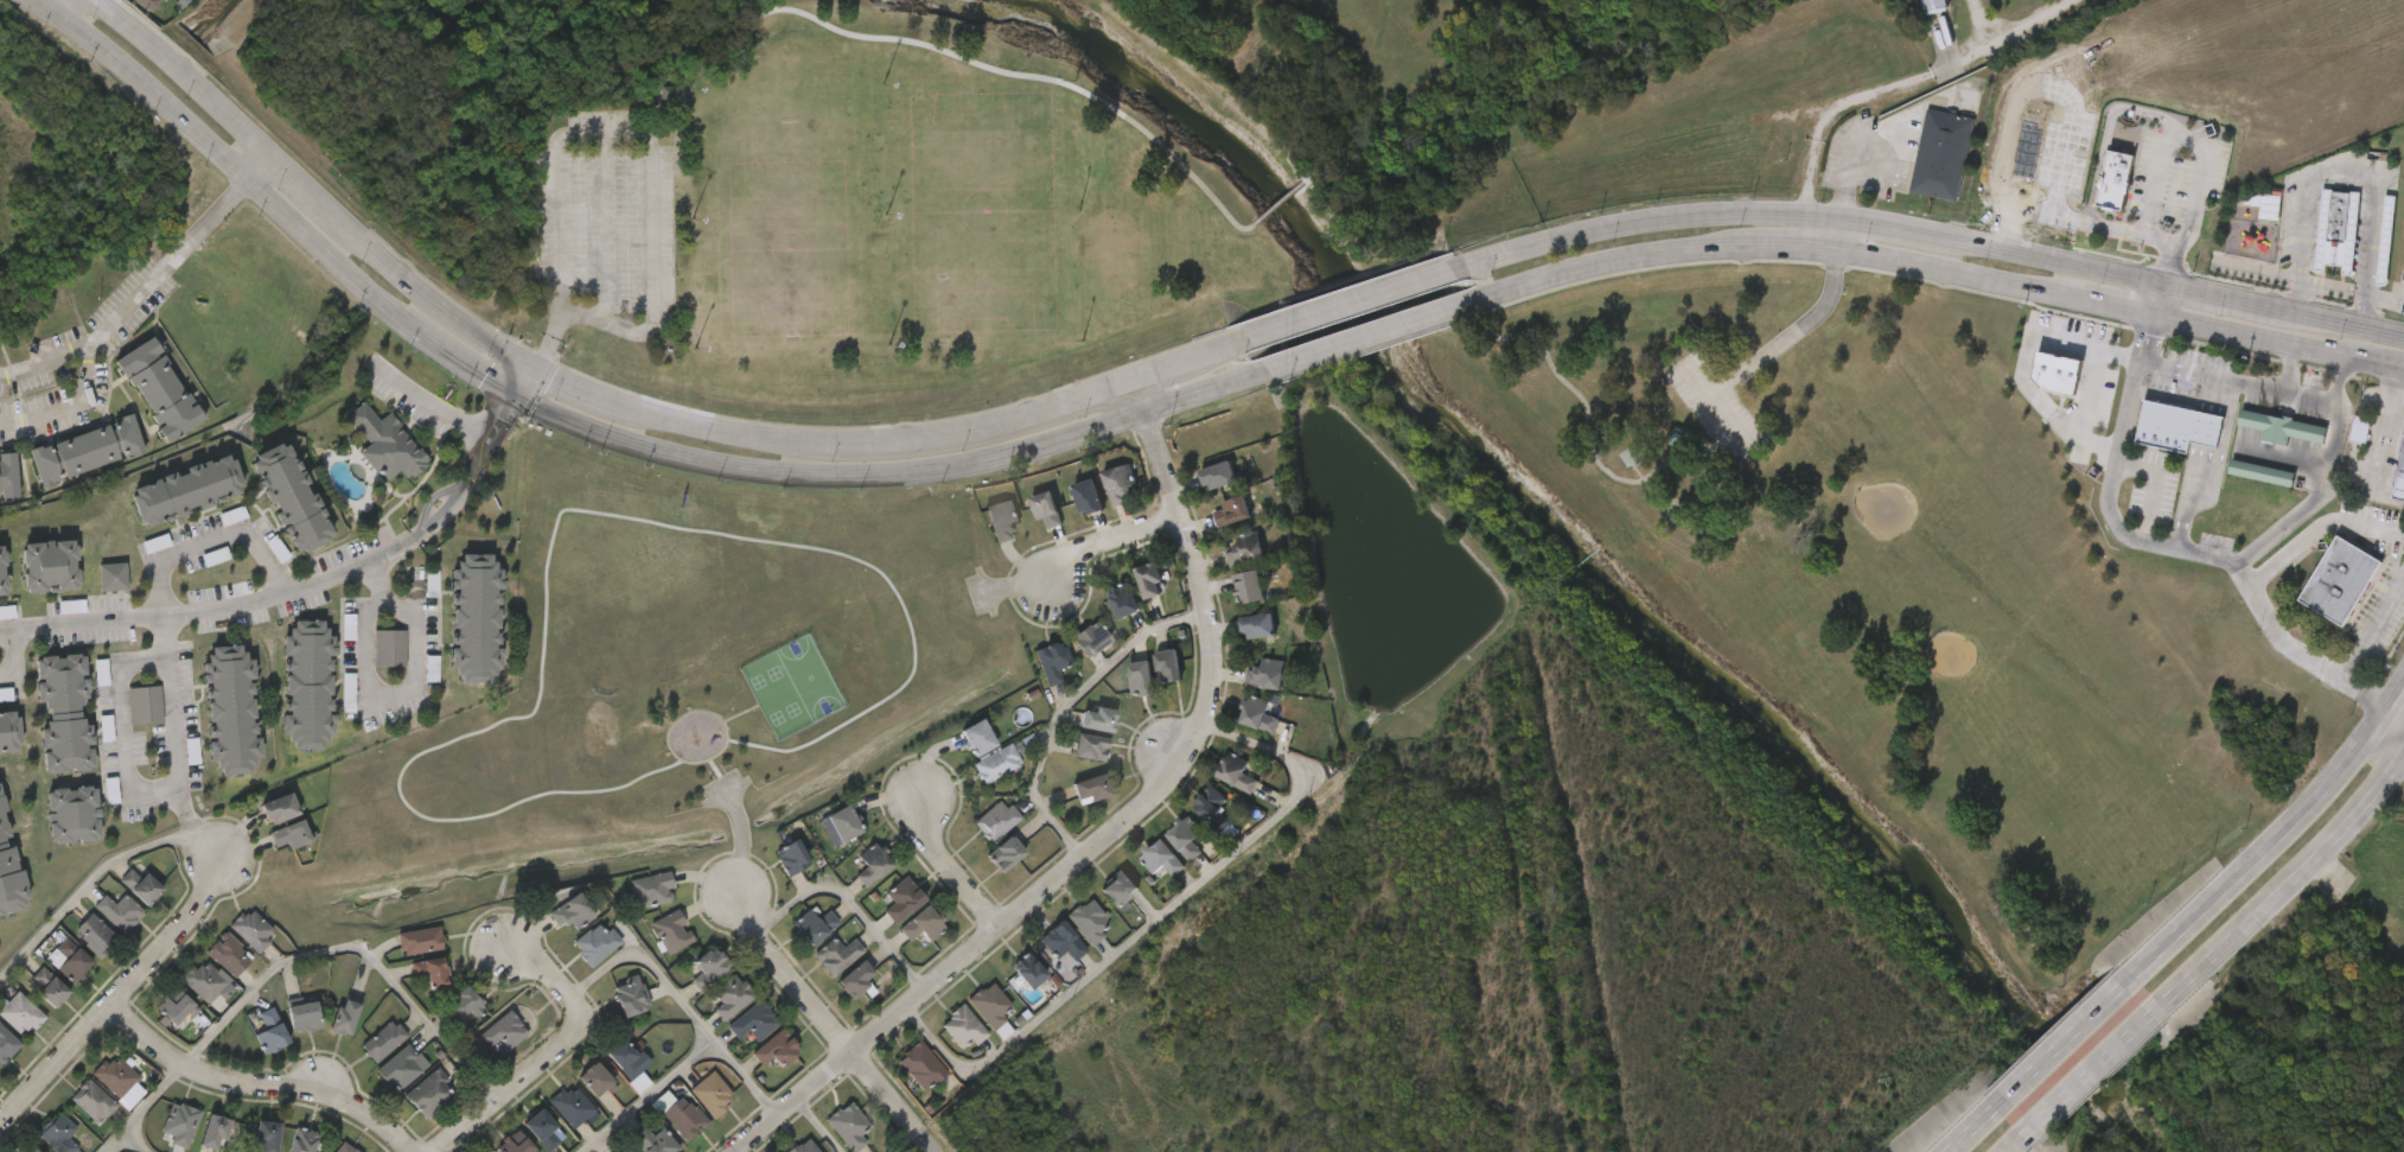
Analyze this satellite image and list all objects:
road: (59, 5)
building: (149, 5)
road: (750, 7)
building: (126, 13)
building: (1908, 18)
road: (1029, 77)
road: (1911, 90)
road: (2121, 108)
building: (648, 119)
road: (630, 133)
building: (1940, 149)
road: (260, 168)
road: (2345, 168)
building: (1920, 178)
road: (2156, 180)
park: (808, 183)
building: (2117, 183)
road: (1281, 204)
building: (2094, 204)
park: (983, 211)
road: (1811, 214)
park: (790, 216)
building: (2335, 228)
building: (2398, 231)
road: (1842, 234)
building: (2385, 238)
building: (2315, 254)
road: (164, 263)
road: (2164, 266)
road: (1940, 272)
road: (1487, 276)
road: (2307, 281)
road: (2295, 295)
road: (2221, 297)
road: (2385, 299)
road: (2157, 300)
road: (1350, 304)
road: (2344, 322)
road: (1529, 337)
road: (1792, 337)
road: (1364, 338)
road: (1220, 349)
road: (529, 361)
traffic signals: (531, 363)
road: (2023, 363)
road: (85, 369)
road: (2289, 369)
building: (2053, 374)
road: (1135, 376)
road: (1169, 382)
building: (158, 389)
road: (2263, 389)
road: (2089, 394)
building: (2034, 396)
road: (1195, 397)
road: (2398, 399)
traffic signals: (511, 403)
road: (432, 405)
road: (1105, 406)
parking lot: (1714, 406)
road: (1715, 406)
road: (524, 409)
building: (139, 412)
building: (2176, 428)
building: (2283, 428)
building: (2359, 428)
building: (385, 441)
road: (2381, 443)
building: (82, 446)
building: (2156, 450)
building: (2260, 451)
building: (2338, 453)
road: (483, 456)
building: (7, 467)
building: (366, 467)
road: (2217, 470)
building: (2262, 471)
building: (68, 472)
building: (1217, 475)
building: (2400, 477)
gas station: (2400, 477)
building: (1117, 479)
road: (2155, 480)
building: (184, 489)
building: (292, 496)
building: (2240, 496)
building: (1085, 497)
building: (1198, 498)
road: (2311, 501)
building: (1045, 505)
building: (1098, 507)
building: (1230, 509)
building: (166, 513)
building: (1001, 516)
building: (270, 518)
building: (1066, 520)
road: (2316, 530)
building: (1025, 532)
building: (1211, 534)
road: (1108, 541)
building: (981, 542)
road: (2174, 547)
building: (1249, 548)
building: (51, 564)
building: (111, 572)
building: (1231, 572)
building: (0, 579)
road: (375, 579)
building: (1148, 579)
building: (2341, 581)
building: (1246, 586)
building: (30, 588)
building: (91, 599)
park: (1890, 599)
building: (1121, 602)
road: (215, 607)
building: (410, 607)
building: (1227, 610)
road: (164, 612)
building: (473, 618)
building: (1103, 623)
building: (1254, 624)
road: (2374, 628)
building: (1089, 637)
building: (454, 641)
building: (388, 644)
building: (1237, 649)
road: (15, 655)
building: (1051, 658)
building: (1070, 661)
building: (1165, 662)
building: (369, 670)
building: (1264, 673)
building: (1136, 676)
building: (306, 683)
building: (1031, 685)
park: (677, 686)
building: (1147, 688)
road: (395, 694)
building: (1245, 698)
building: (146, 701)
building: (1120, 701)
road: (1060, 702)
building: (63, 707)
building: (232, 707)
building: (288, 707)
building: (1256, 713)
building: (1095, 718)
building: (125, 726)
road: (123, 727)
road: (2393, 727)
building: (8, 728)
building: (210, 732)
building: (44, 736)
building: (975, 737)
building: (1237, 738)
building: (1086, 745)
building: (956, 760)
building: (996, 760)
building: (1069, 770)
building: (1233, 770)
building: (0, 771)
building: (975, 787)
building: (1089, 789)
building: (1216, 795)
building: (278, 806)
building: (1210, 807)
building: (70, 809)
building: (1070, 812)
building: (997, 817)
building: (841, 825)
building: (1192, 829)
building: (260, 830)
building: (287, 834)
building: (1184, 835)
building: (53, 836)
road: (2281, 836)
road: (200, 838)
road: (1099, 841)
building: (975, 842)
building: (820, 847)
building: (790, 854)
building: (1005, 854)
building: (269, 857)
building: (1160, 857)
building: (872, 863)
building: (9, 866)
road: (949, 866)
building: (984, 876)
building: (771, 880)
building: (1140, 881)
building: (140, 884)
road: (85, 885)
building: (651, 885)
road: (2288, 885)
building: (852, 886)
building: (1117, 887)
road: (850, 897)
building: (903, 898)
building: (120, 906)
building: (572, 906)
building: (631, 912)
building: (2, 914)
road: (1153, 915)
building: (1086, 917)
building: (881, 922)
building: (922, 922)
building: (815, 923)
building: (670, 925)
building: (95, 927)
building: (251, 927)
building: (549, 935)
building: (419, 937)
building: (1061, 938)
building: (598, 940)
road: (350, 942)
building: (901, 947)
building: (793, 948)
building: (229, 950)
building: (837, 951)
building: (651, 954)
building: (72, 957)
building: (400, 962)
building: (710, 963)
building: (575, 966)
building: (1027, 968)
building: (427, 970)
building: (856, 976)
building: (816, 978)
building: (204, 980)
building: (47, 986)
building: (688, 989)
building: (631, 993)
building: (1007, 993)
building: (410, 994)
building: (731, 994)
road: (120, 995)
road: (682, 995)
building: (835, 1000)
building: (174, 1001)
building: (988, 1003)
building: (460, 1004)
building: (17, 1007)
building: (298, 1011)
building: (344, 1013)
building: (611, 1018)
building: (710, 1018)
building: (752, 1019)
building: (962, 1024)
road: (830, 1025)
building: (445, 1029)
building: (503, 1029)
building: (158, 1030)
building: (272, 1030)
road: (2074, 1037)
building: (325, 1038)
building: (383, 1038)
building: (7, 1040)
building: (732, 1044)
building: (773, 1046)
building: (942, 1050)
building: (250, 1054)
building: (483, 1054)
road: (550, 1054)
building: (624, 1057)
building: (920, 1061)
building: (363, 1063)
building: (401, 1063)
building: (0, 1065)
building: (755, 1071)
road: (2094, 1071)
building: (113, 1074)
building: (593, 1077)
road: (260, 1087)
building: (710, 1088)
building: (900, 1088)
building: (382, 1089)
building: (427, 1090)
road: (643, 1093)
building: (91, 1100)
building: (569, 1103)
road: (134, 1106)
building: (409, 1115)
building: (683, 1116)
building: (179, 1120)
building: (849, 1121)
building: (72, 1122)
road: (821, 1125)
building: (541, 1126)
road: (1977, 1127)
building: (210, 1128)
building: (59, 1132)
building: (266, 1134)
building: (161, 1139)
building: (301, 1139)
road: (134, 1140)
building: (652, 1140)
building: (827, 1141)
building: (514, 1143)
building: (197, 1145)
road: (2017, 1145)
building: (343, 1146)
building: (802, 1146)
building: (247, 1147)
building: (32, 1150)
building: (279, 1150)
building: (623, 1150)
building: (495, 1151)
building: (611, 1151)

